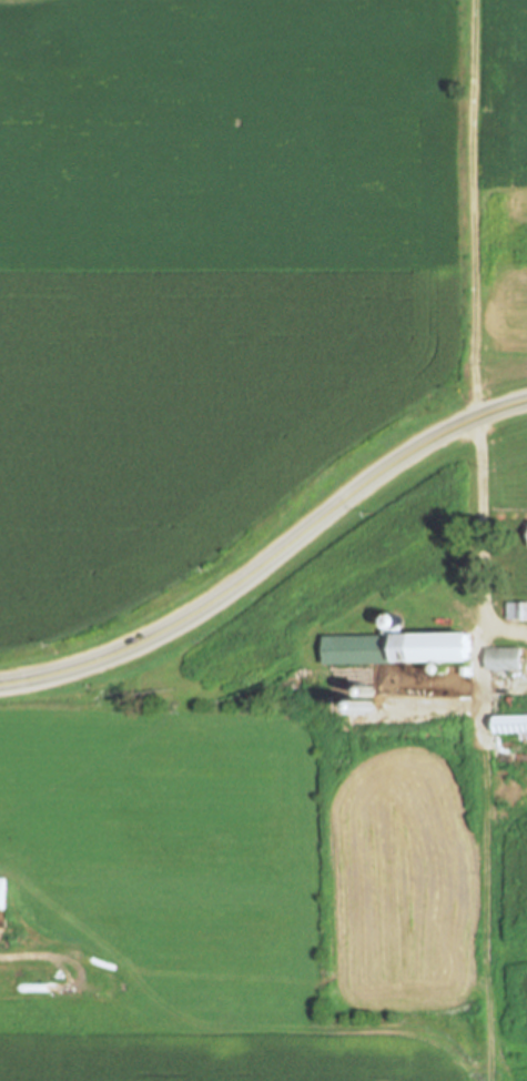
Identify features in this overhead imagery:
road: (473, 209)
road: (478, 529)
road: (270, 557)
building: (517, 610)
road: (504, 625)
building: (413, 646)
building: (504, 659)
building: (510, 727)
road: (486, 860)
building: (1, 892)
road: (200, 1028)

